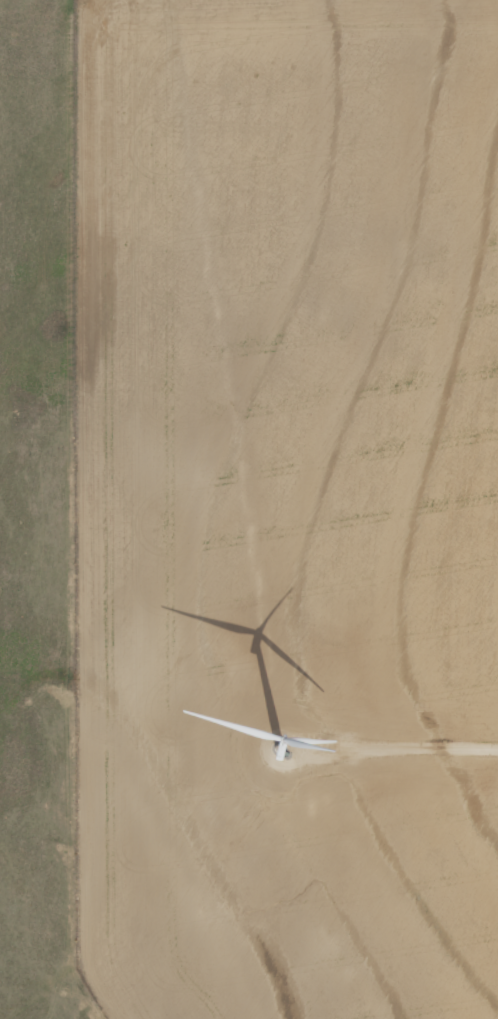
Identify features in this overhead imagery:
wind turbine: (278, 754)

